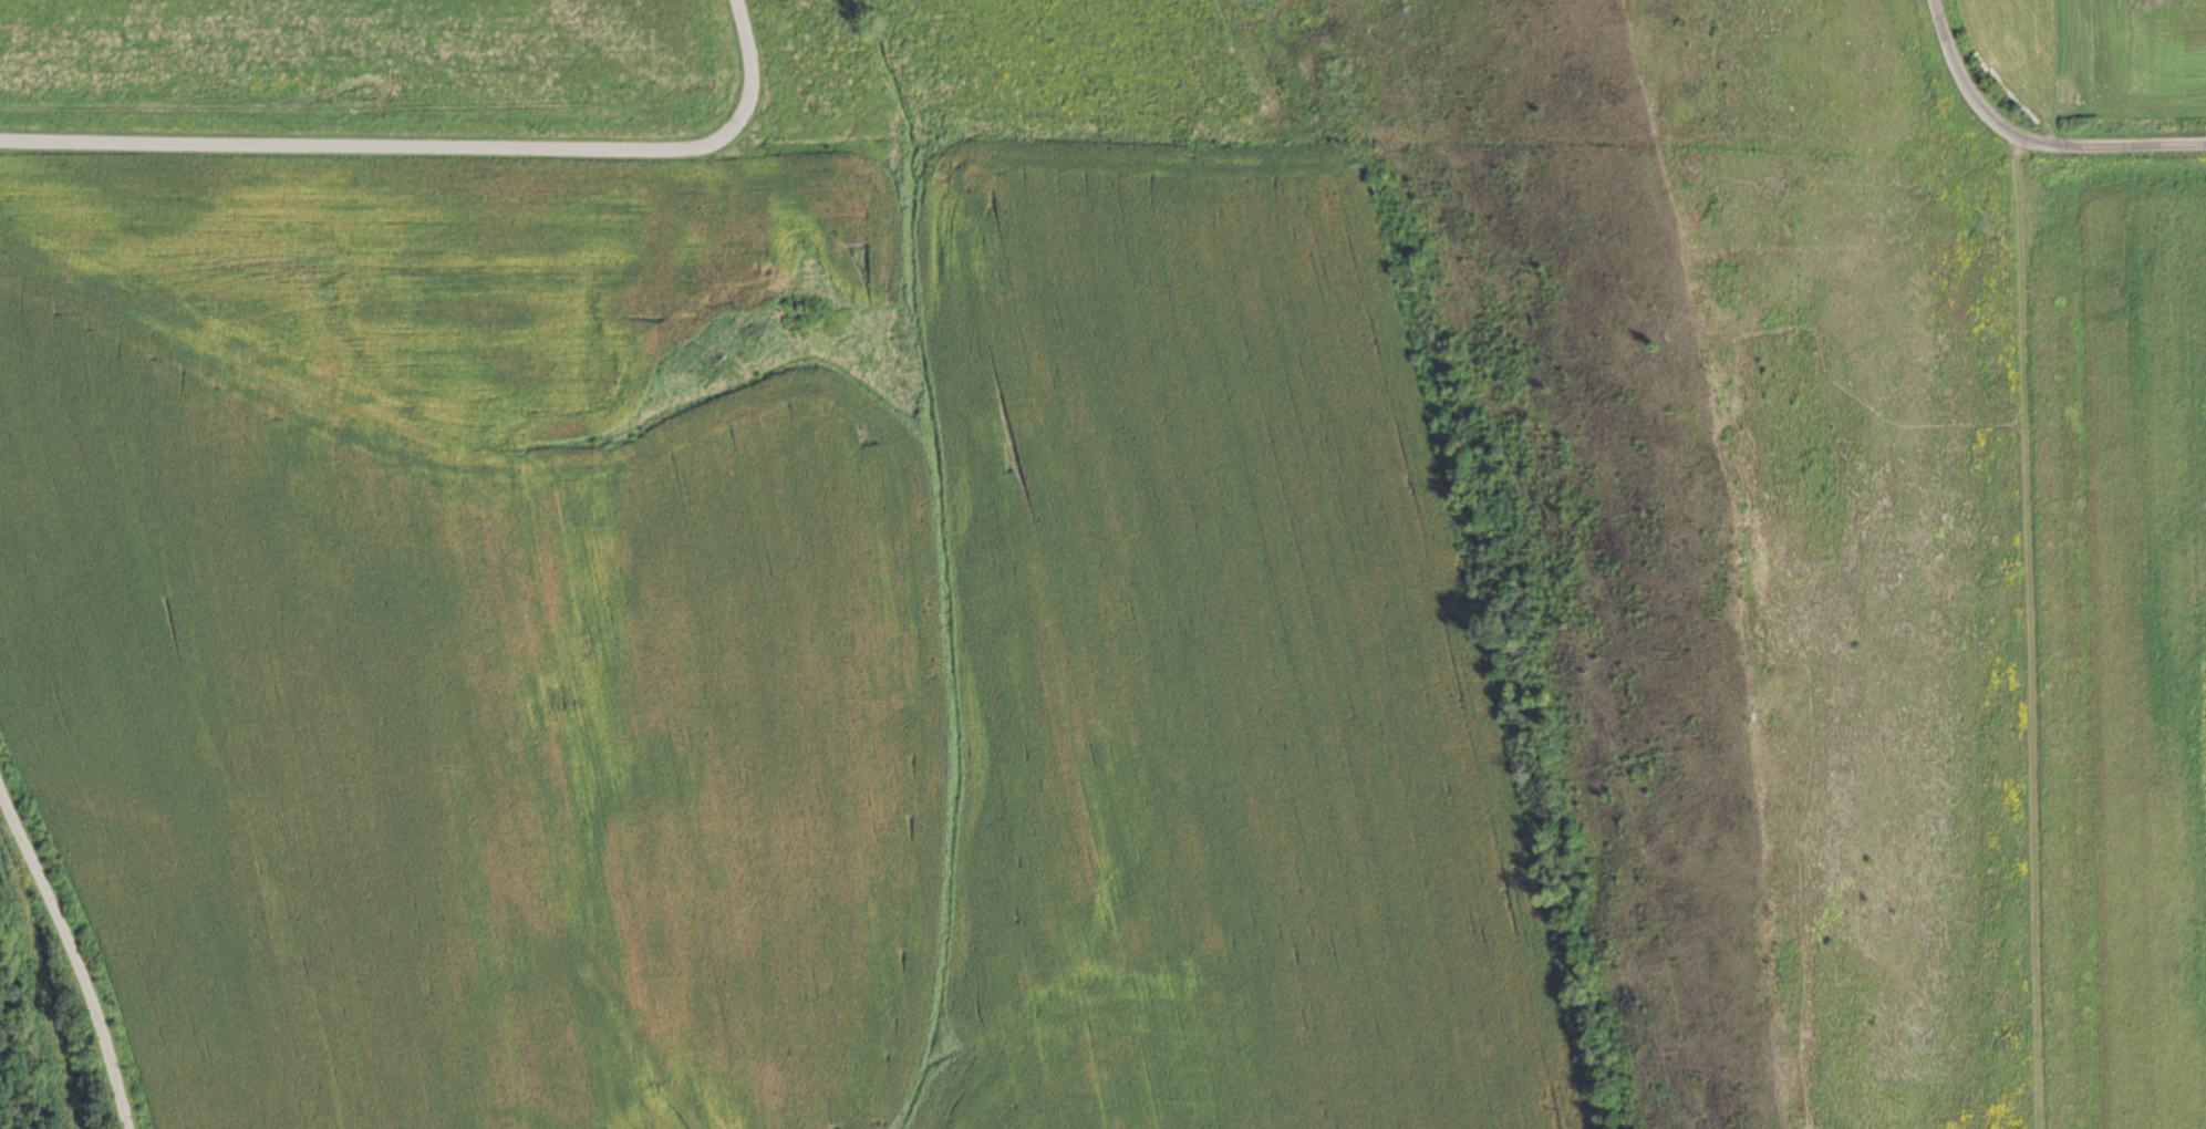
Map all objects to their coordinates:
road: (2028, 143)
road: (437, 151)
road: (64, 969)

